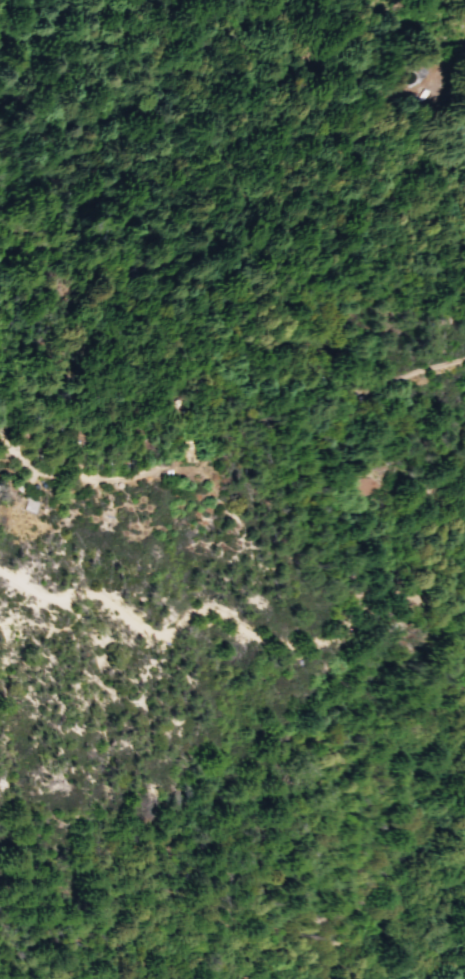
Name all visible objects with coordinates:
road: (443, 7)
road: (225, 356)
building: (73, 438)
building: (188, 450)
road: (441, 454)
road: (96, 478)
water tower: (42, 484)
building: (370, 484)
water tower: (34, 485)
building: (30, 505)
building: (411, 600)
road: (286, 645)
road: (410, 912)

